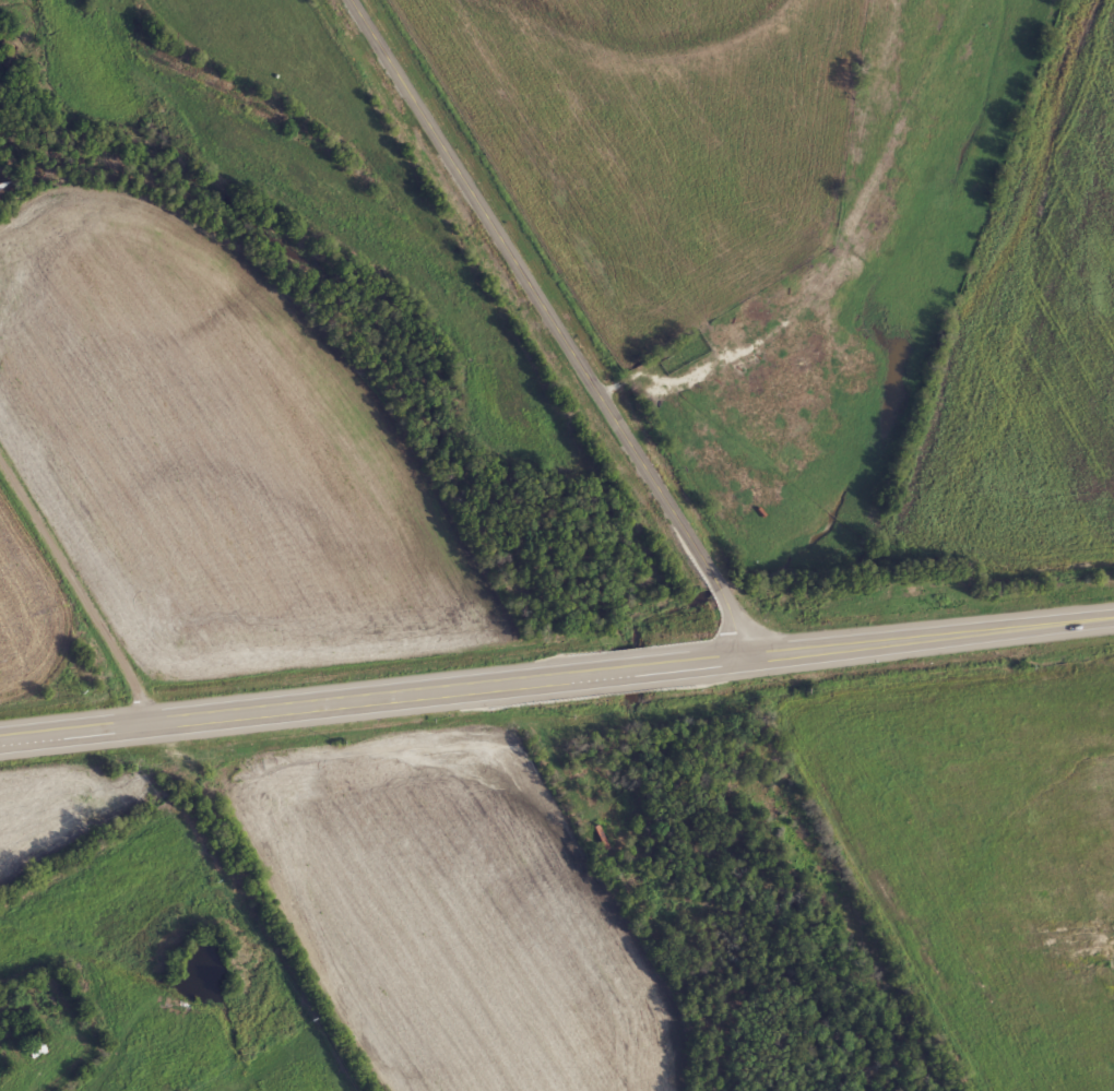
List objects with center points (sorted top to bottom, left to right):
road: (555, 327)
road: (81, 581)
road: (933, 639)
road: (375, 693)

